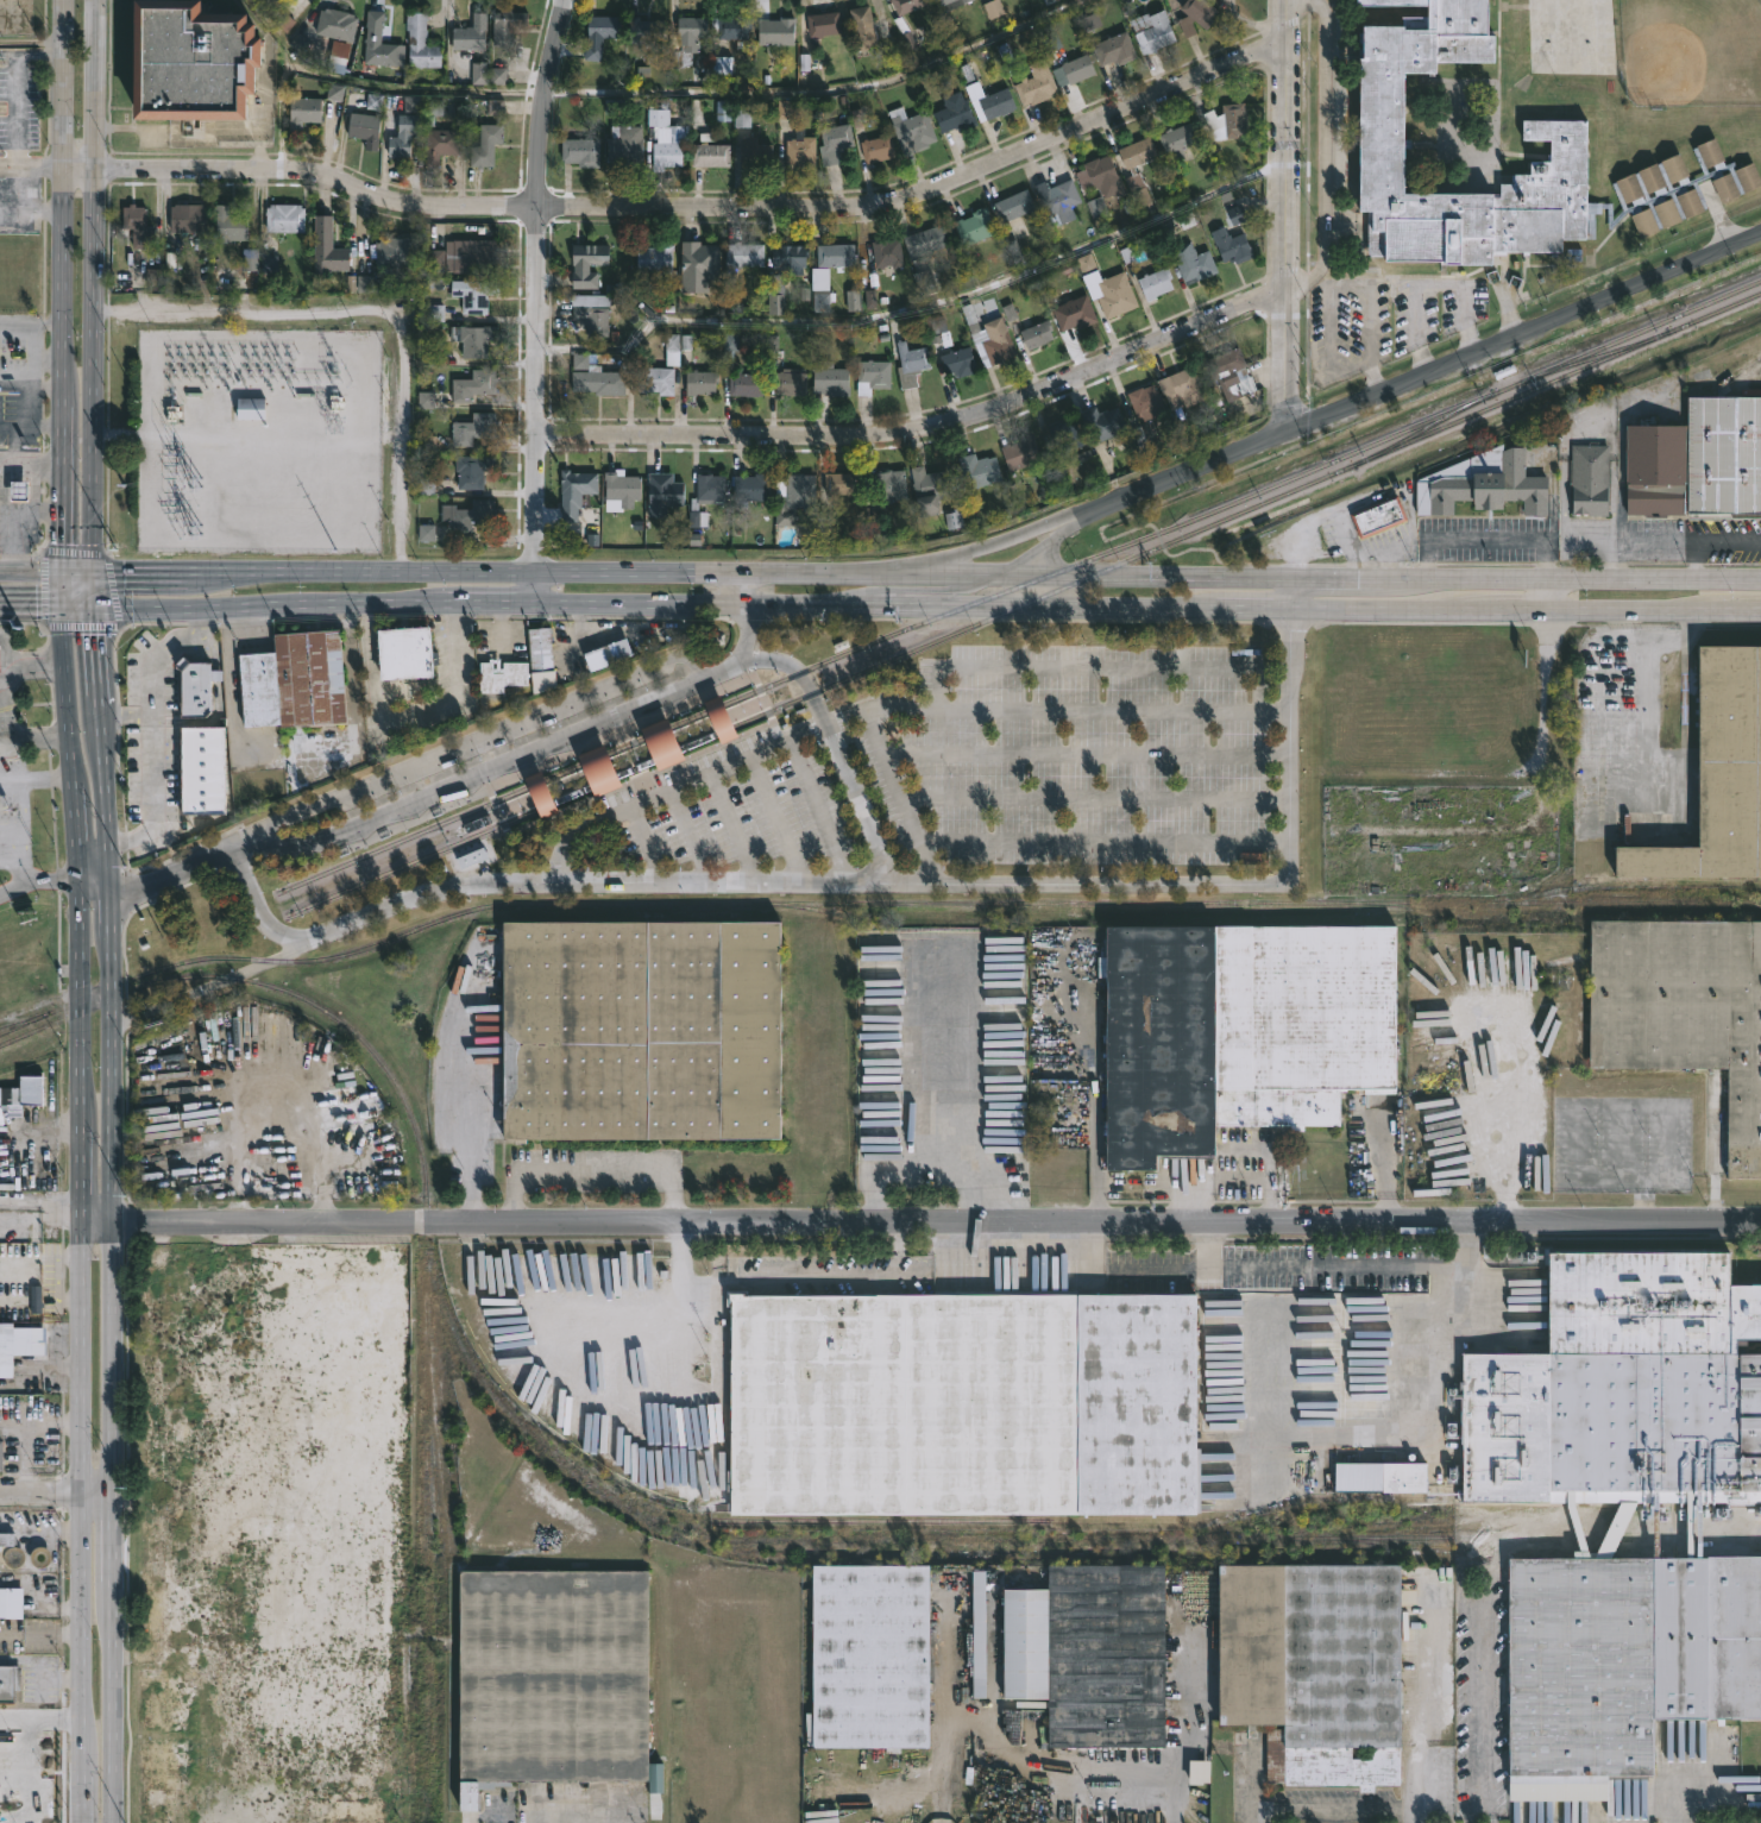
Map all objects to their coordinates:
building: (948, 4)
building: (907, 5)
building: (1196, 15)
building: (824, 23)
building: (335, 24)
building: (504, 24)
building: (730, 27)
building: (640, 30)
building: (772, 30)
building: (866, 30)
building: (1152, 30)
building: (471, 34)
building: (596, 34)
building: (688, 39)
building: (378, 42)
building: (420, 42)
road: (31, 50)
building: (1112, 50)
building: (197, 61)
building: (723, 67)
building: (1075, 69)
building: (485, 74)
road: (95, 83)
building: (1033, 84)
road: (697, 98)
road: (546, 103)
building: (990, 105)
building: (303, 112)
building: (950, 113)
building: (1228, 120)
building: (366, 128)
building: (1552, 128)
building: (912, 130)
building: (403, 134)
building: (1180, 140)
road: (1290, 140)
building: (835, 143)
building: (440, 144)
building: (622, 146)
building: (485, 147)
building: (878, 147)
building: (797, 150)
building: (578, 151)
road: (1326, 153)
building: (665, 155)
building: (751, 155)
building: (707, 156)
road: (48, 165)
building: (1134, 177)
road: (319, 178)
building: (1101, 183)
road: (929, 194)
building: (1059, 201)
building: (1011, 206)
building: (188, 218)
building: (284, 218)
building: (229, 225)
building: (138, 227)
building: (971, 227)
building: (1221, 235)
building: (929, 240)
building: (328, 247)
building: (396, 252)
building: (889, 253)
building: (832, 254)
building: (461, 256)
building: (740, 256)
building: (655, 257)
building: (785, 257)
building: (584, 263)
building: (1194, 263)
building: (697, 264)
building: (1155, 283)
road: (62, 284)
road: (1340, 285)
road: (1427, 285)
building: (473, 295)
building: (1115, 296)
road: (373, 309)
road: (920, 312)
railway: (1713, 313)
building: (1071, 314)
building: (593, 319)
road: (536, 320)
road: (30, 322)
road: (1523, 332)
railway: (1640, 332)
building: (1037, 335)
building: (474, 341)
building: (992, 341)
road: (46, 356)
road: (42, 357)
road: (1288, 357)
railway: (1592, 358)
road: (106, 360)
building: (911, 363)
building: (955, 363)
road: (94, 370)
building: (1225, 372)
road: (32, 373)
building: (870, 375)
building: (597, 378)
building: (830, 379)
building: (653, 381)
building: (791, 382)
building: (697, 383)
road: (30, 384)
building: (742, 385)
building: (472, 386)
building: (1183, 388)
railway: (1505, 388)
railway: (1509, 398)
building: (1146, 403)
building: (251, 411)
building: (1103, 425)
road: (1599, 425)
road: (925, 426)
road: (31, 427)
building: (473, 429)
railway: (1422, 429)
building: (1064, 436)
power substation: (260, 442)
building: (1018, 453)
building: (1723, 459)
road: (30, 460)
building: (977, 470)
building: (472, 471)
building: (1653, 471)
road: (1181, 476)
building: (1587, 482)
power tower: (121, 484)
building: (843, 485)
building: (1480, 485)
building: (887, 486)
building: (931, 488)
building: (618, 489)
building: (747, 490)
building: (571, 492)
building: (663, 495)
building: (706, 497)
road: (1379, 497)
building: (794, 498)
road: (1564, 498)
road: (1611, 499)
road: (534, 502)
building: (466, 515)
building: (1376, 518)
road: (1314, 522)
building: (1, 529)
gas station: (1, 529)
road: (1485, 538)
road: (1587, 539)
road: (1647, 539)
road: (1687, 539)
road: (1727, 539)
road: (983, 547)
road: (1043, 548)
road: (71, 549)
road: (1295, 553)
road: (1611, 558)
road: (1692, 558)
road: (30, 570)
traffic signals: (61, 571)
road: (77, 571)
traffic signals: (94, 572)
road: (313, 572)
road: (771, 574)
road: (1152, 578)
road: (1338, 578)
road: (1570, 578)
railway: (1013, 586)
road: (40, 587)
road: (61, 587)
road: (93, 589)
road: (111, 590)
road: (533, 590)
road: (740, 590)
road: (925, 591)
road: (1295, 595)
road: (1547, 596)
road: (31, 603)
road: (312, 604)
traffic signals: (62, 605)
road: (77, 605)
road: (641, 605)
traffic signals: (93, 606)
road: (1254, 611)
road: (422, 616)
road: (748, 618)
road: (1018, 620)
road: (20, 623)
road: (80, 627)
power tower: (19, 628)
road: (746, 633)
railway: (948, 634)
road: (1656, 643)
road: (5, 650)
building: (403, 653)
building: (606, 653)
building: (541, 656)
road: (26, 664)
road: (725, 668)
road: (1099, 668)
building: (0, 670)
building: (501, 674)
building: (295, 679)
building: (195, 691)
road: (353, 699)
road: (988, 711)
road: (124, 717)
building: (719, 723)
road: (150, 730)
road: (11, 733)
road: (480, 737)
road: (67, 743)
road: (99, 747)
building: (654, 749)
road: (834, 752)
parking lot: (1078, 755)
road: (1089, 756)
building: (175, 763)
road: (483, 768)
road: (731, 768)
building: (200, 769)
building: (599, 773)
building: (1717, 773)
road: (33, 778)
building: (540, 797)
road: (1098, 799)
road: (20, 809)
parking lot: (727, 816)
railway: (503, 818)
road: (778, 823)
road: (736, 831)
railway: (408, 837)
road: (691, 840)
road: (1108, 843)
road: (245, 846)
road: (647, 848)
road: (24, 849)
road: (611, 855)
railway: (416, 860)
building: (472, 860)
road: (170, 876)
road: (36, 880)
railway: (1621, 881)
road: (90, 885)
road: (1227, 885)
road: (530, 888)
railway: (938, 900)
railway: (804, 906)
railway: (1474, 911)
railway: (208, 945)
building: (1518, 949)
road: (212, 982)
building: (1684, 1011)
railway: (25, 1020)
railway: (350, 1024)
building: (946, 1027)
building: (635, 1029)
building: (1241, 1030)
railway: (27, 1032)
road: (77, 1051)
road: (111, 1054)
building: (26, 1092)
road: (467, 1101)
road: (1713, 1148)
road: (1385, 1162)
road: (589, 1165)
road: (1268, 1177)
road: (38, 1202)
road: (96, 1221)
road: (937, 1224)
road: (1207, 1245)
road: (1288, 1266)
road: (812, 1278)
road: (576, 1309)
building: (23, 1341)
road: (114, 1358)
road: (78, 1359)
road: (36, 1368)
building: (1620, 1388)
building: (958, 1403)
road: (1391, 1437)
road: (25, 1448)
building: (1, 1457)
building: (1379, 1476)
road: (39, 1496)
road: (98, 1496)
railway: (1366, 1517)
railway: (878, 1520)
railway: (1405, 1520)
building: (300, 1526)
road: (39, 1533)
railway: (1350, 1536)
railway: (1397, 1546)
building: (11, 1557)
building: (10, 1604)
building: (1090, 1653)
building: (870, 1657)
road: (115, 1659)
road: (80, 1660)
building: (1620, 1664)
road: (1424, 1665)
building: (1315, 1666)
building: (549, 1679)
road: (54, 1680)
building: (8, 1681)
road: (958, 1698)
road: (1476, 1706)
road: (1189, 1721)
road: (10, 1731)
building: (1200, 1773)
road: (1127, 1779)
road: (1413, 1783)
road: (565, 1805)
road: (1329, 1809)
road: (1476, 1817)

